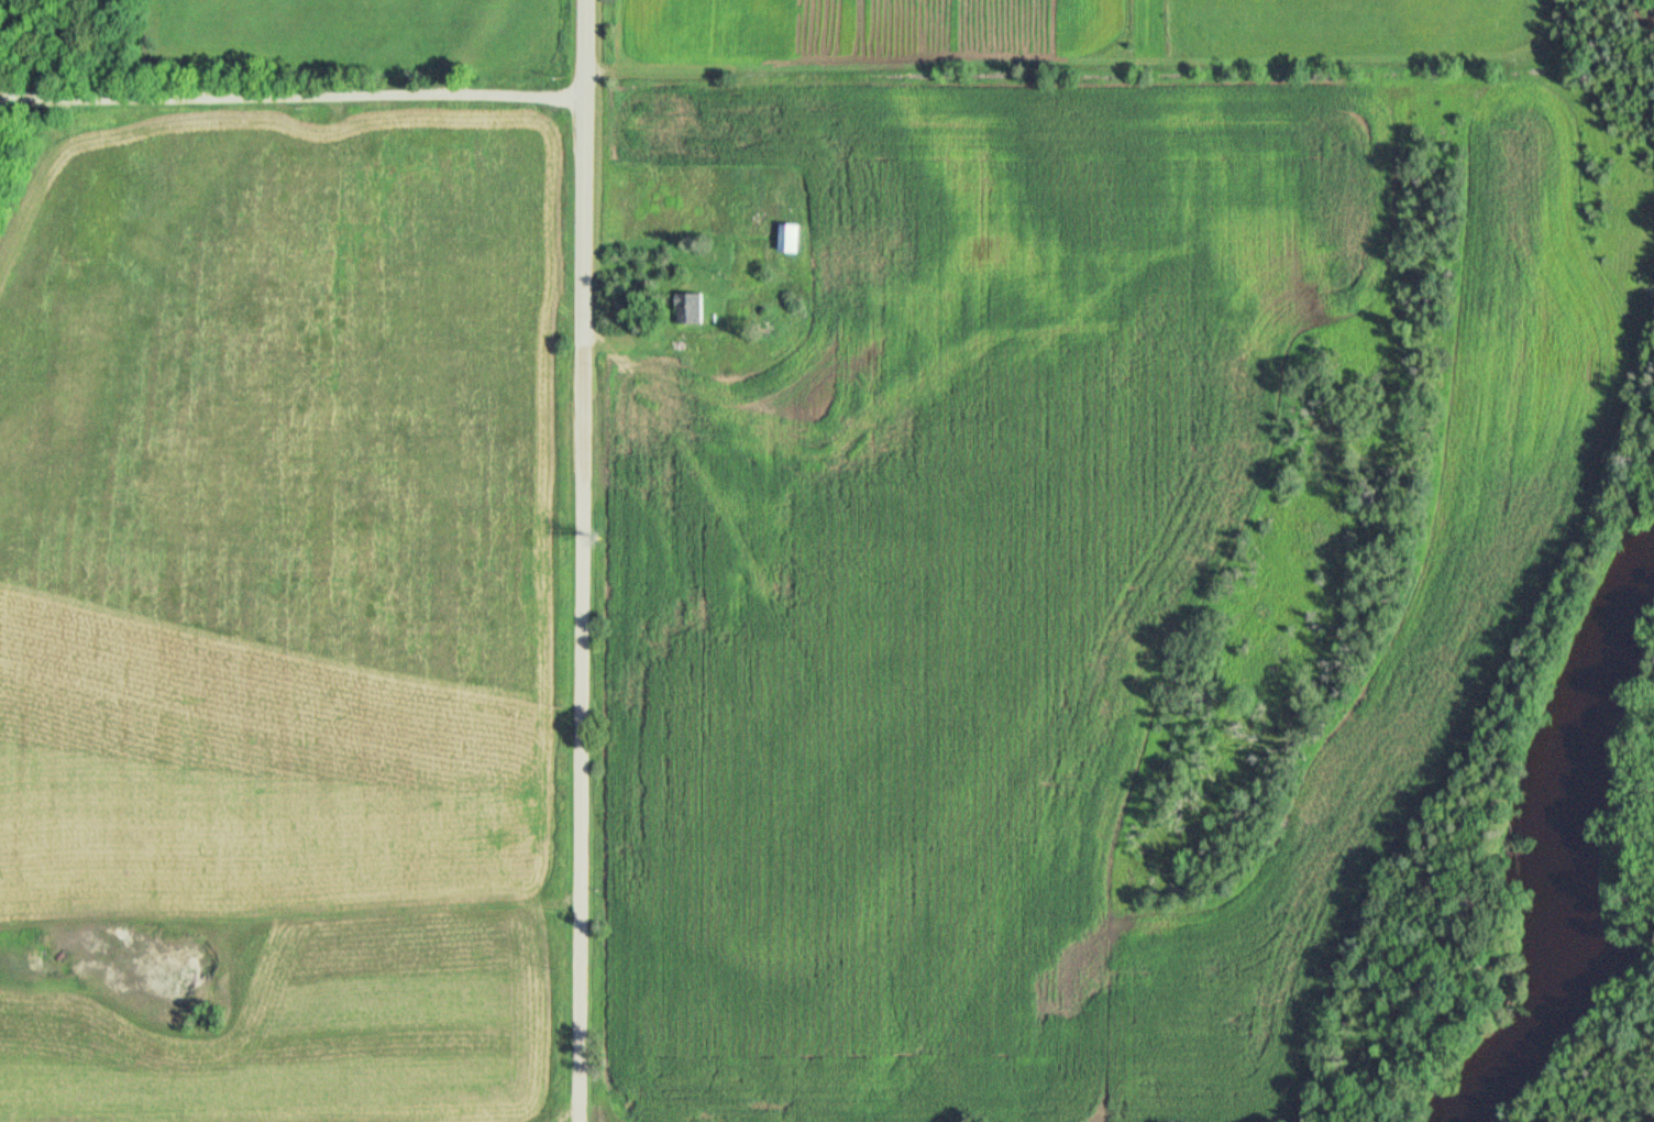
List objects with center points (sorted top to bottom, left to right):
road: (289, 96)
building: (792, 240)
building: (690, 307)
road: (580, 561)
river: (1533, 850)

